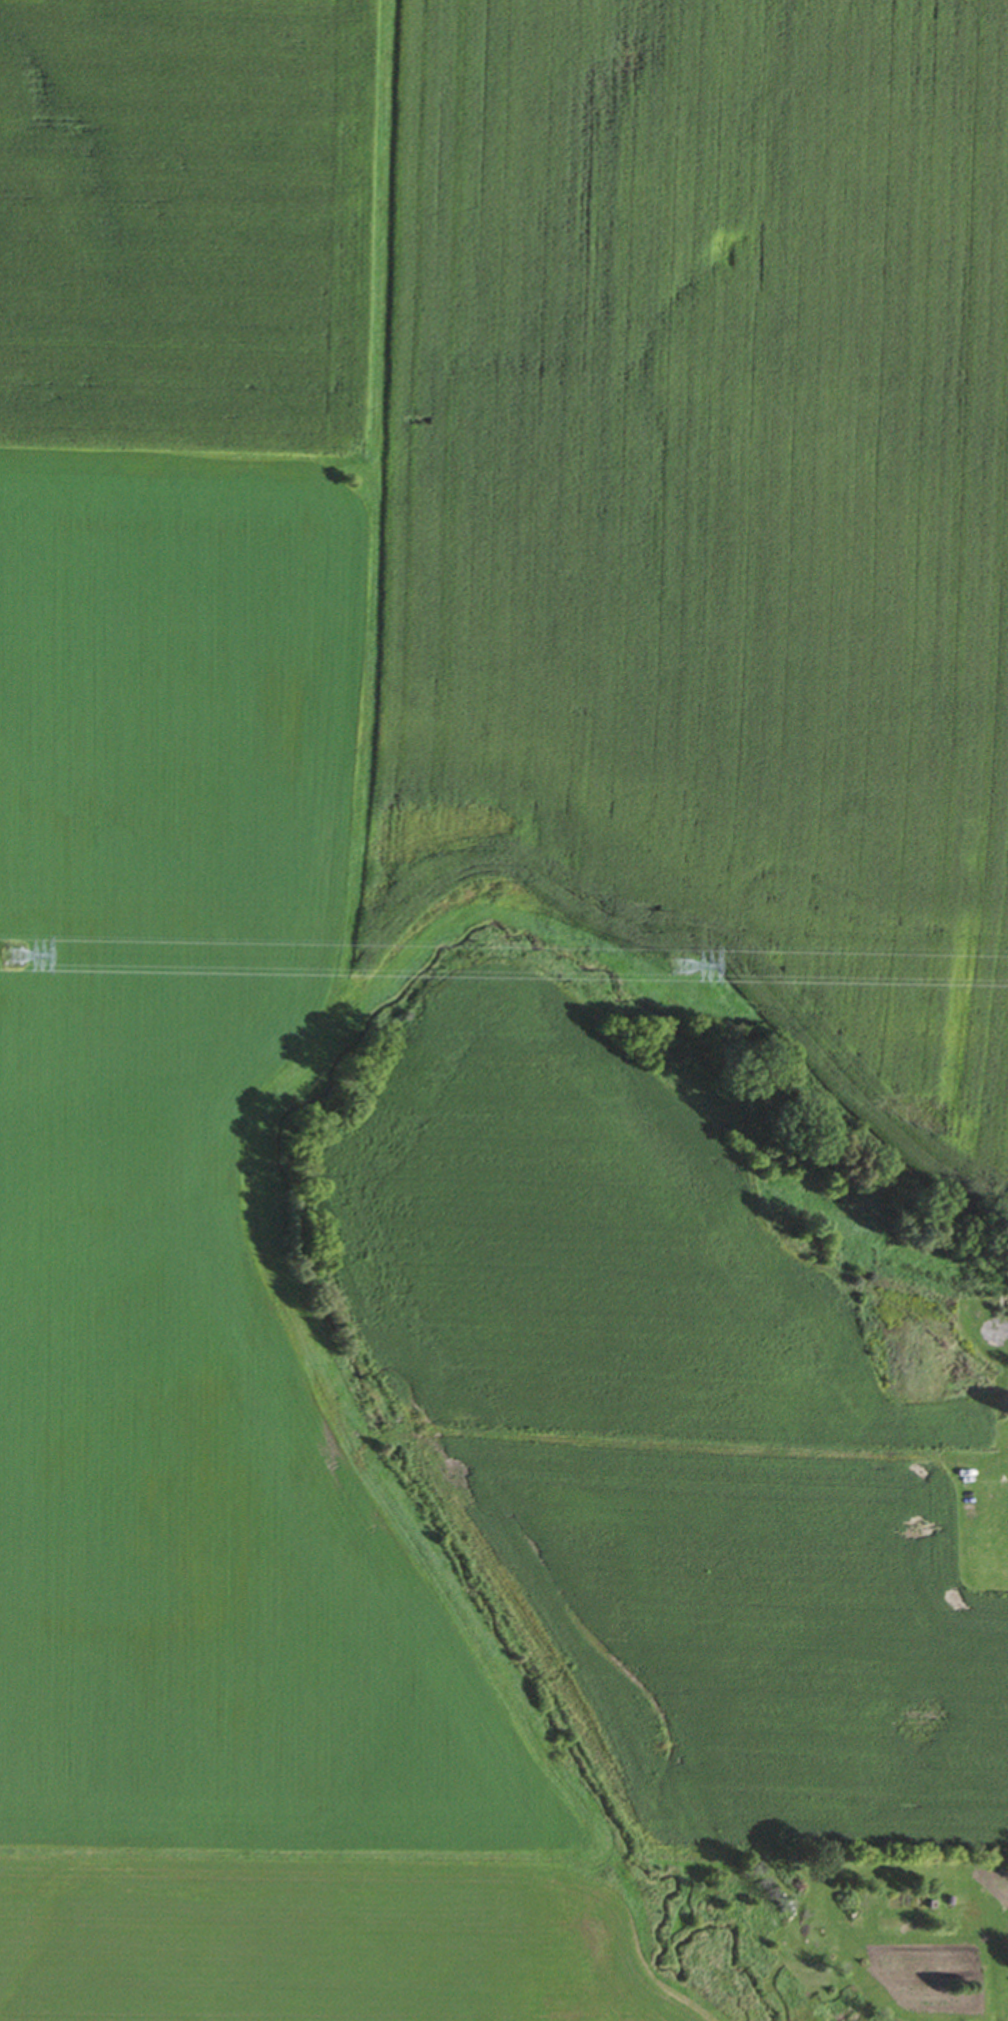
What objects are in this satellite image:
power tower: (13, 957)
power tower: (679, 969)

